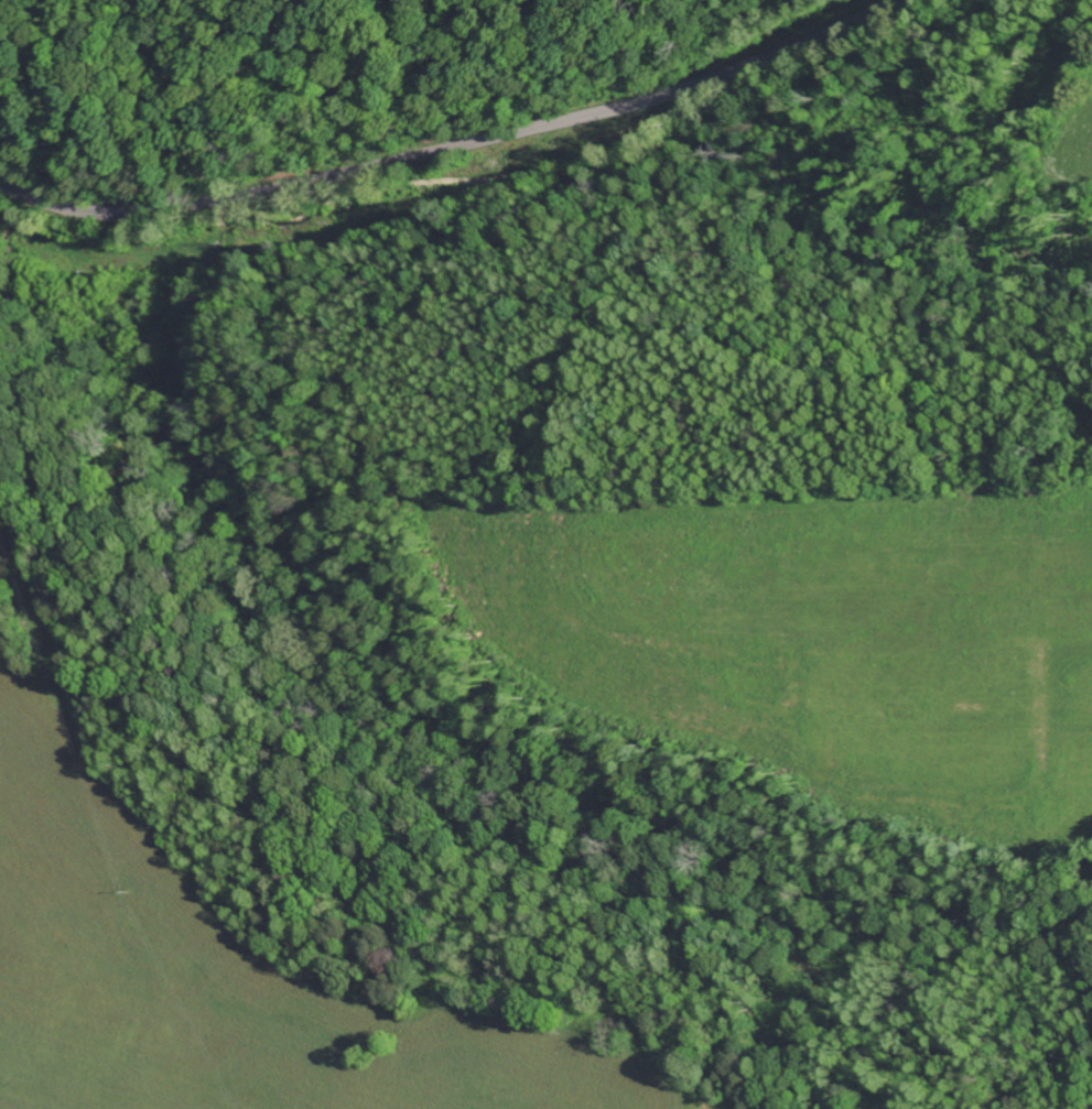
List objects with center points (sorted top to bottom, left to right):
road: (461, 141)

